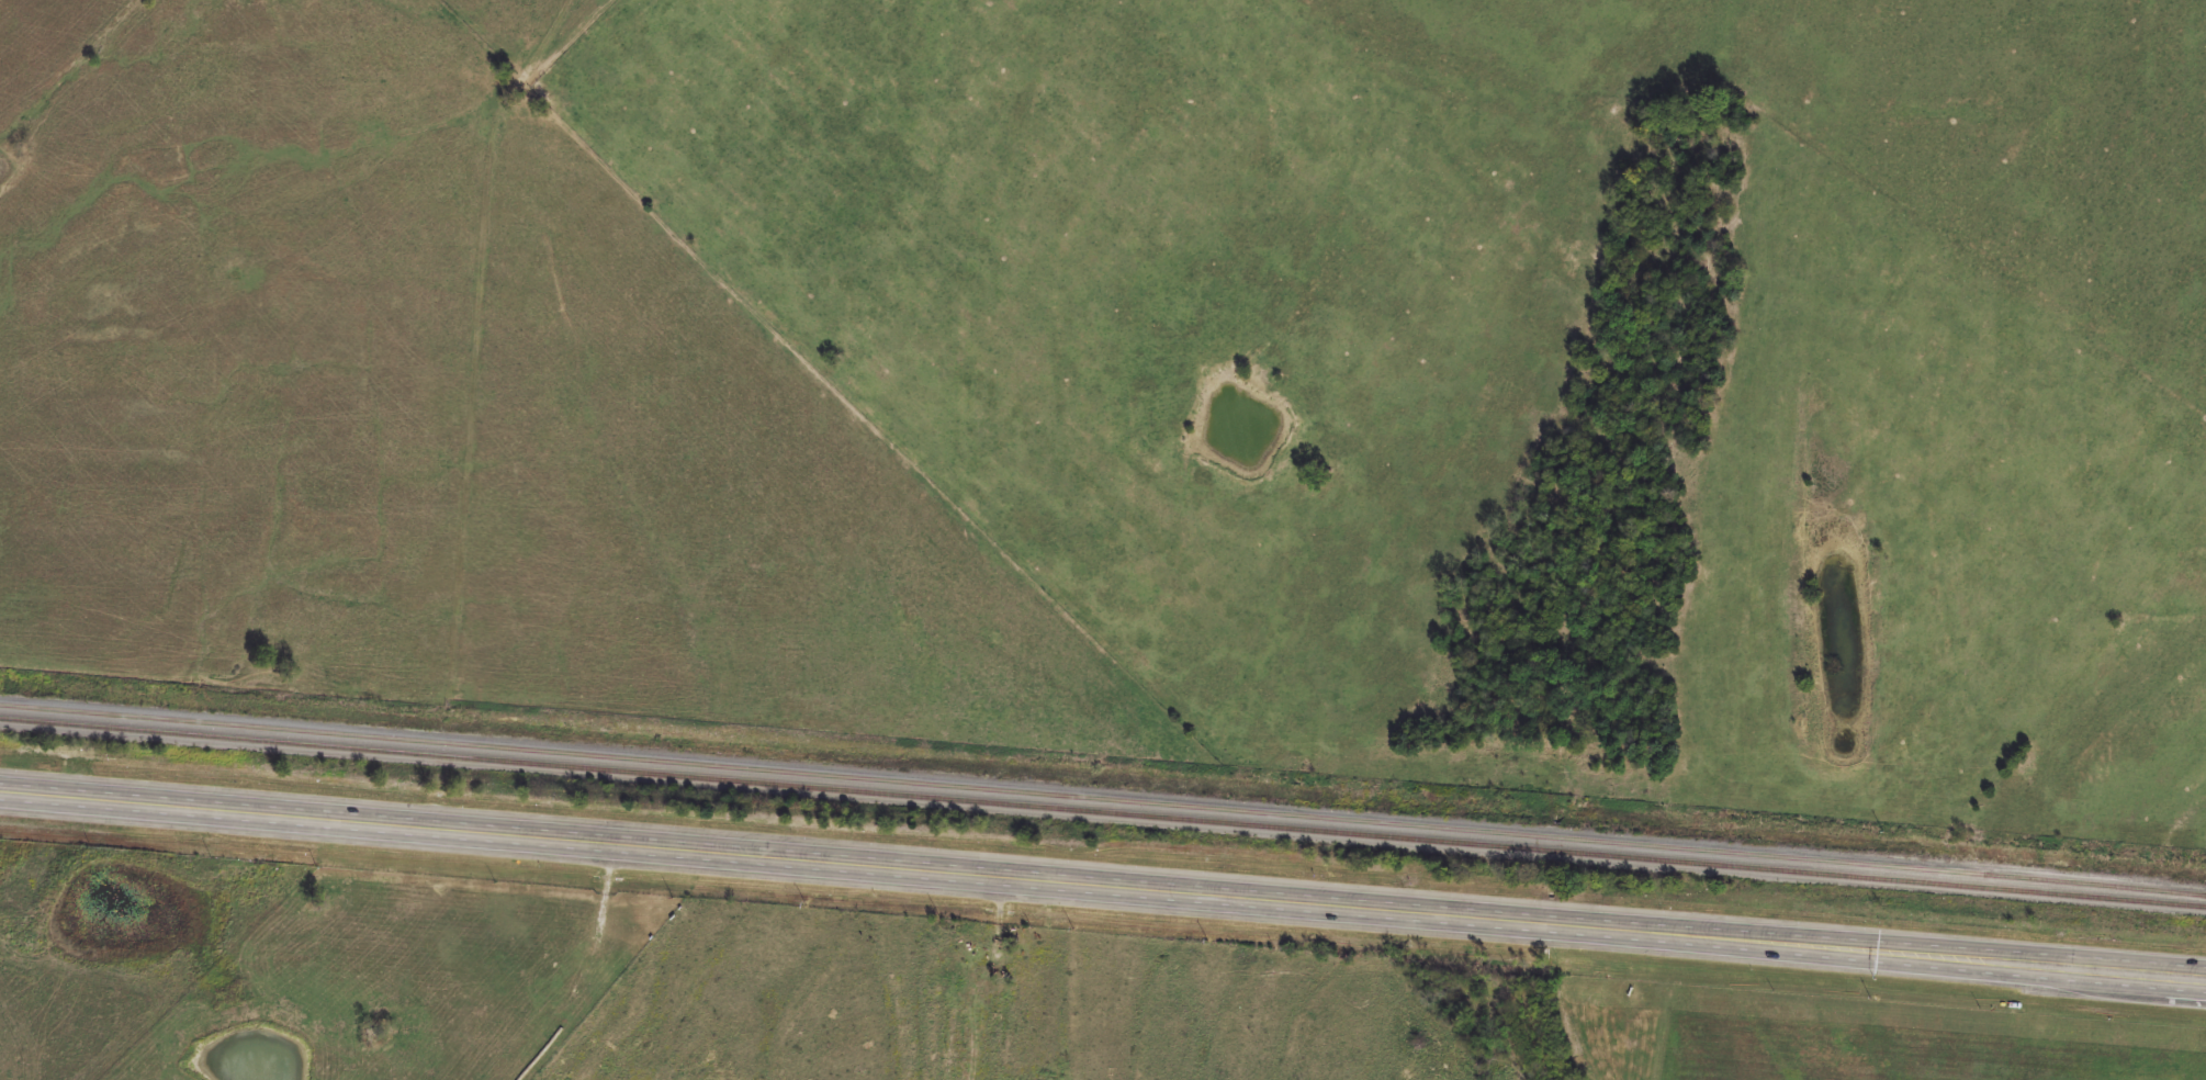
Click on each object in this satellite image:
railway: (1103, 800)
railway: (1102, 811)
road: (779, 862)
road: (1882, 956)

